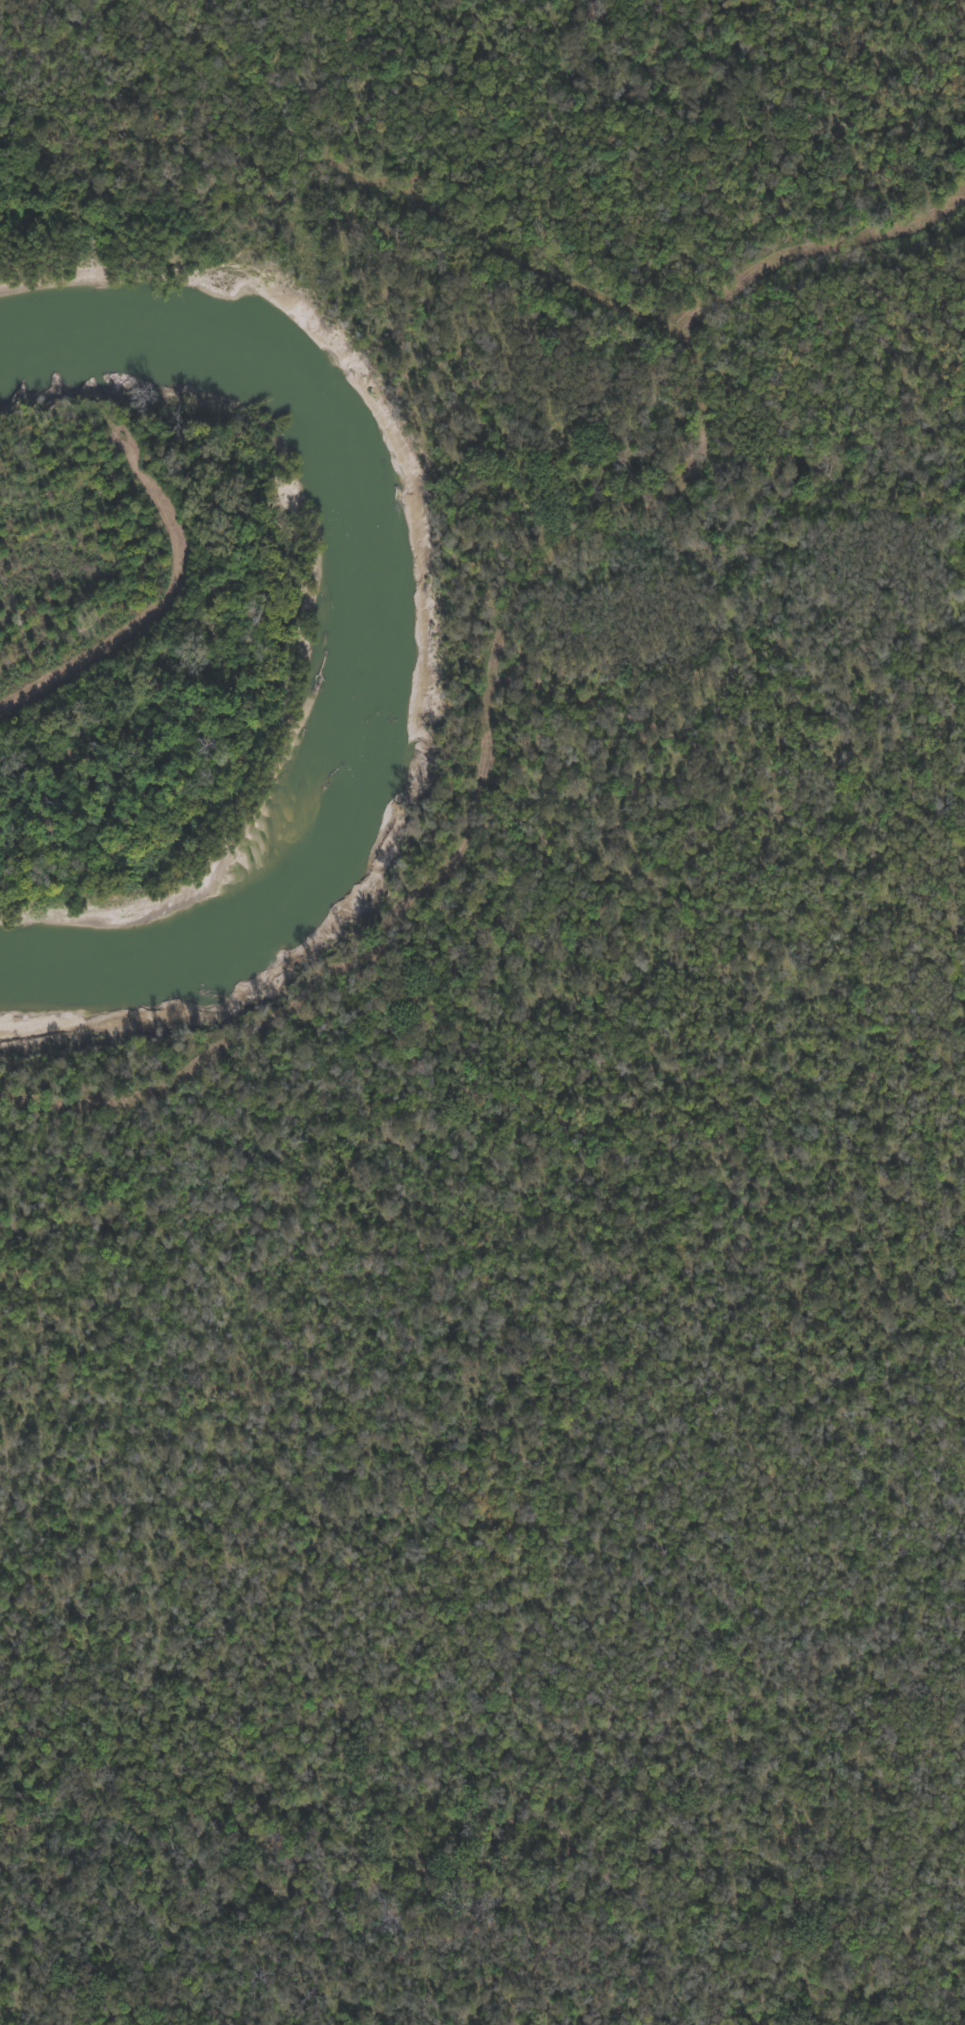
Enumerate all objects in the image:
river: (381, 612)

